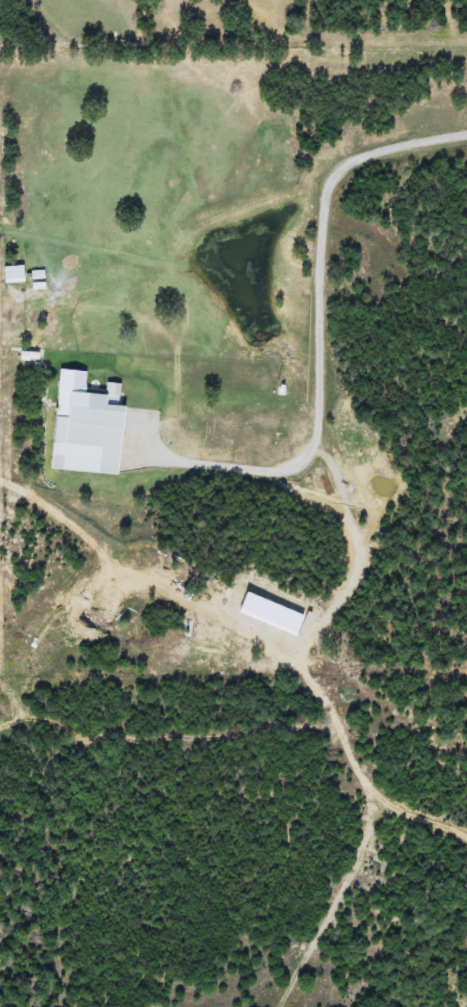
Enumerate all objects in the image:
building: (76, 429)
road: (153, 458)

